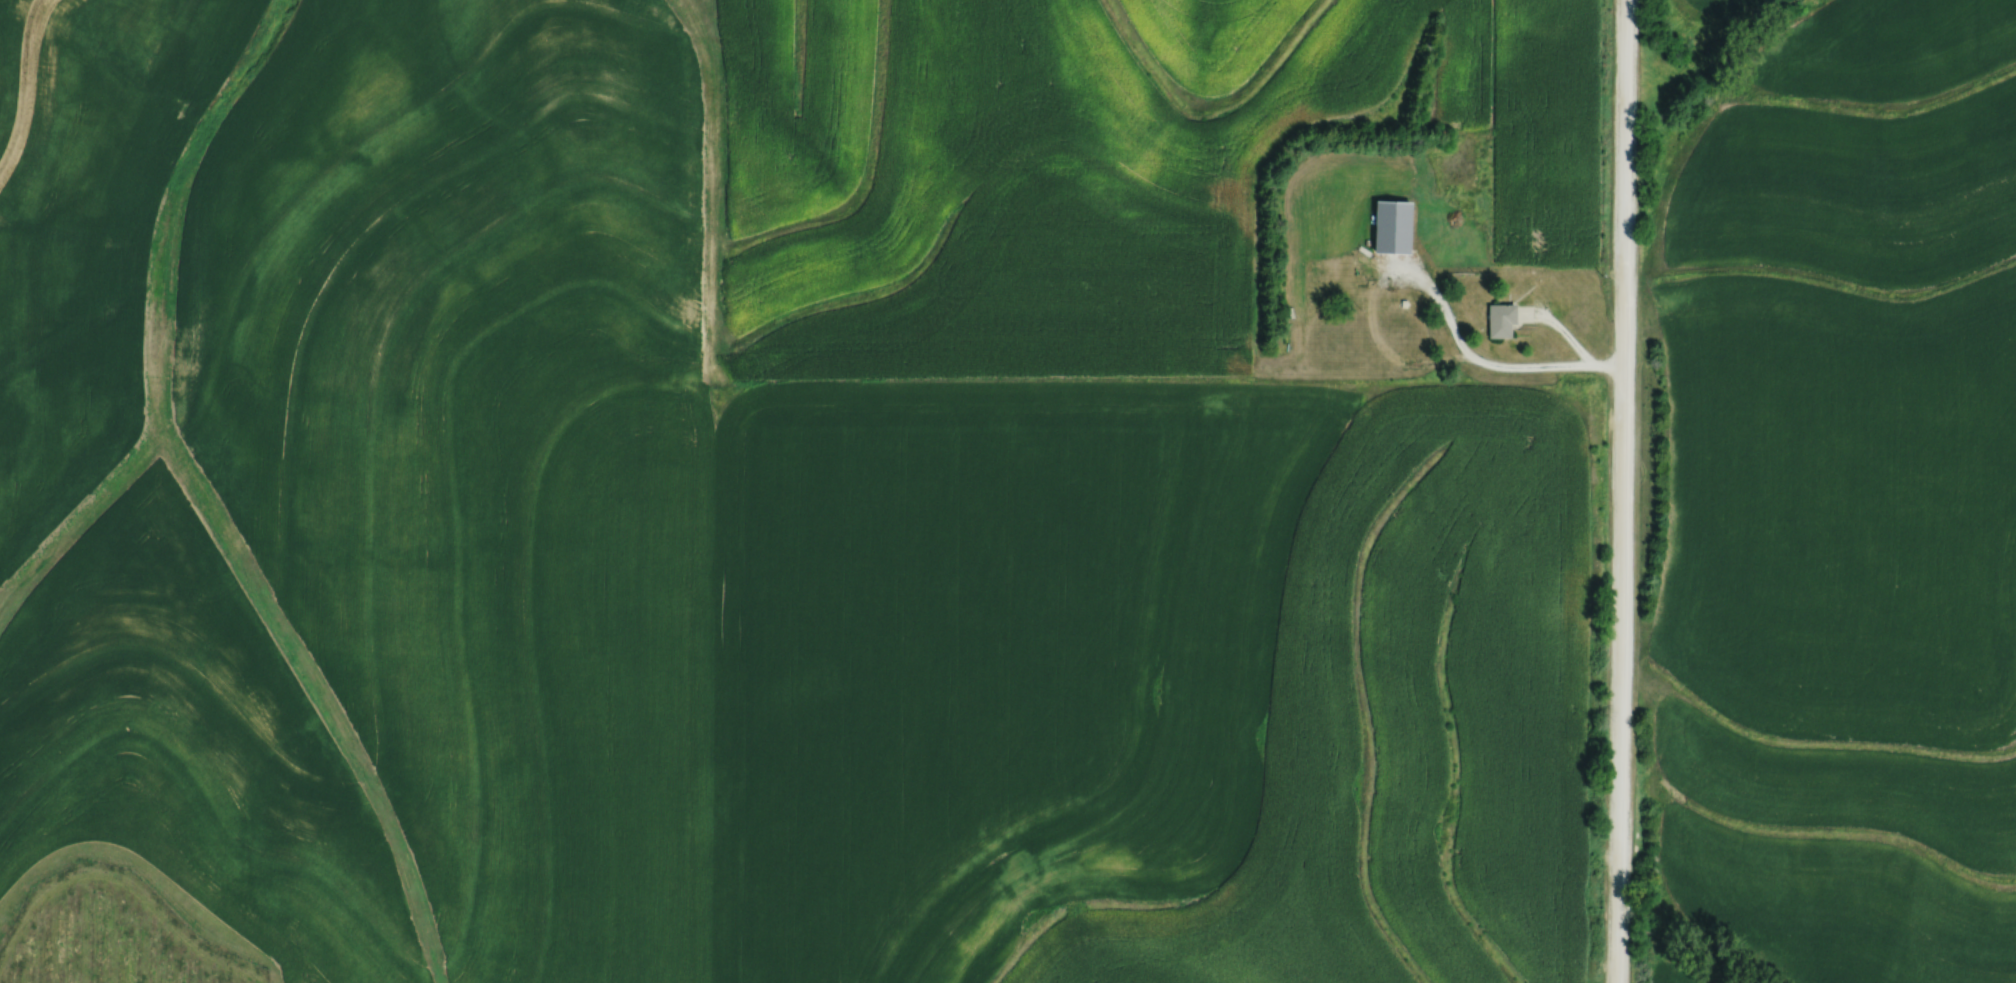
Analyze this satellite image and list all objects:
building: (1402, 227)
building: (1499, 321)
road: (1621, 491)

